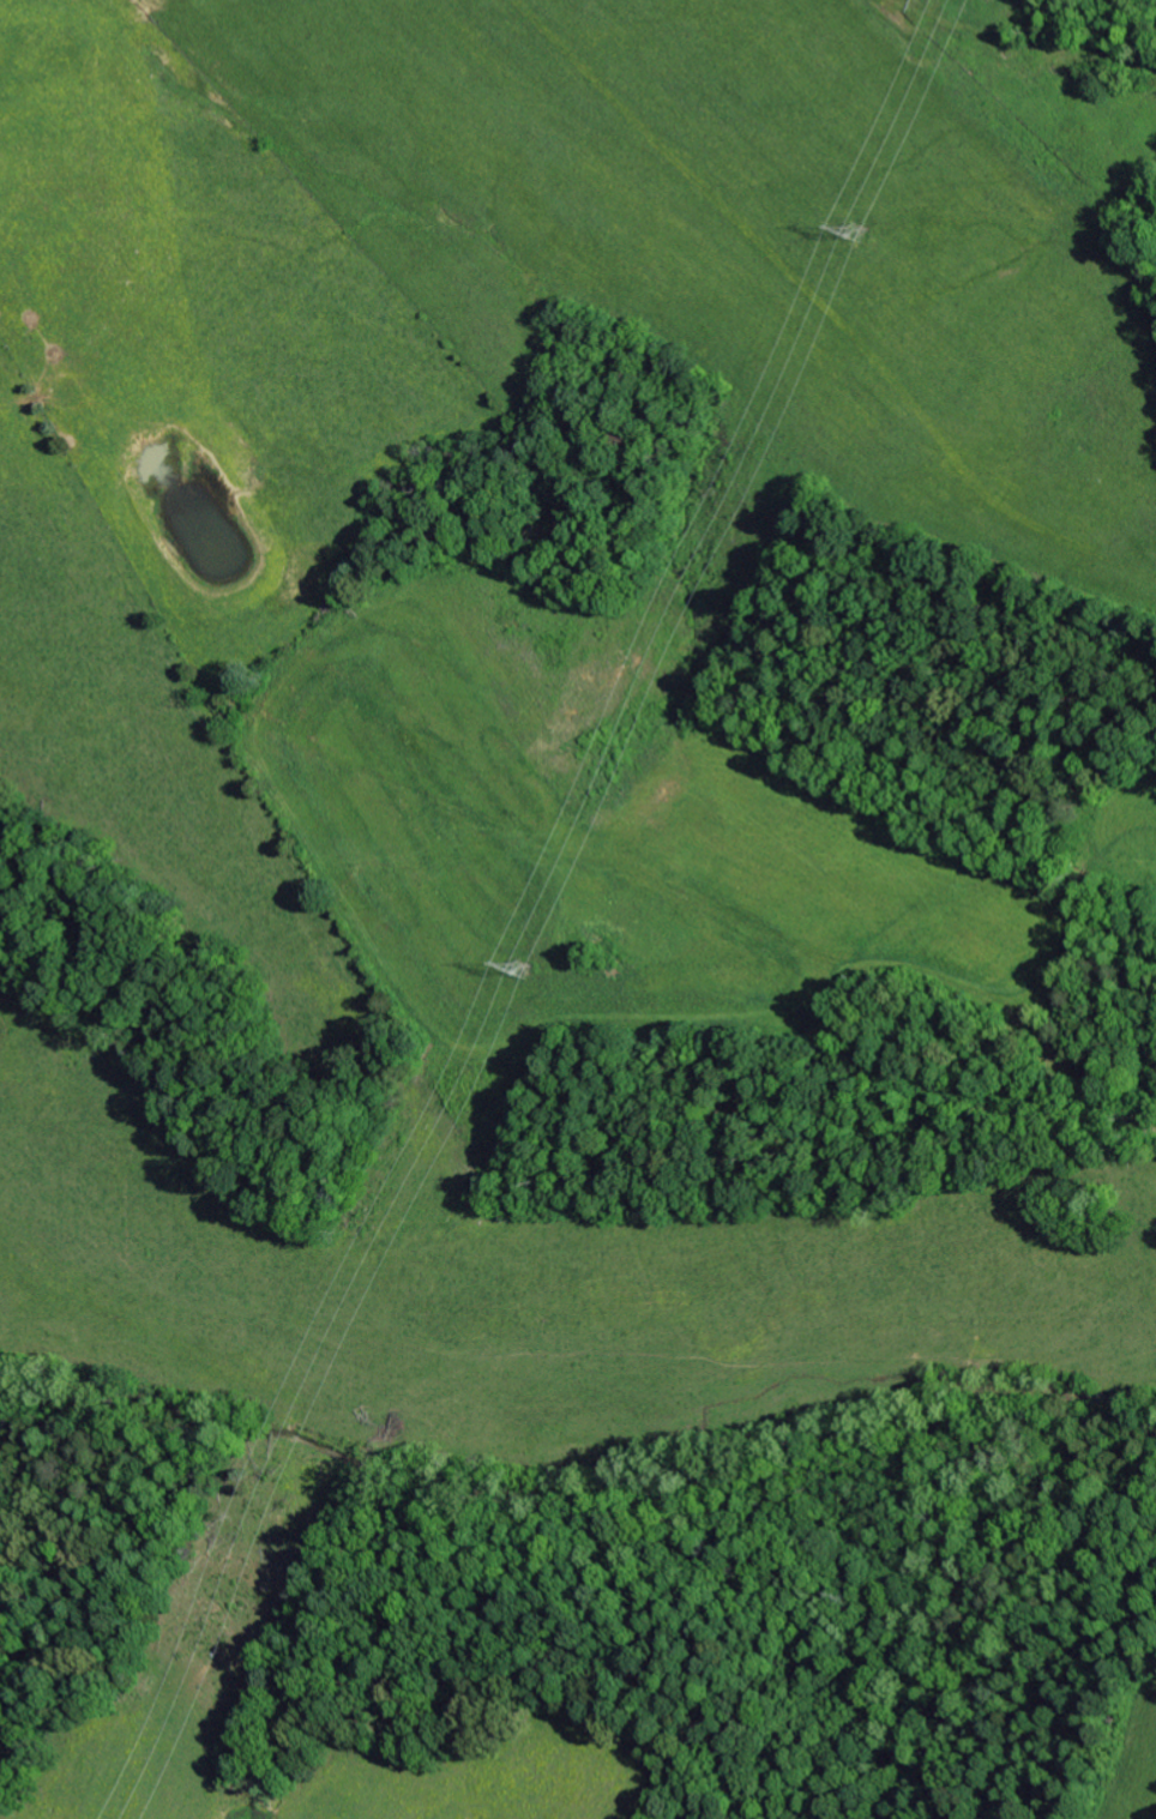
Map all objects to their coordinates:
power tower: (857, 233)
power tower: (524, 969)

